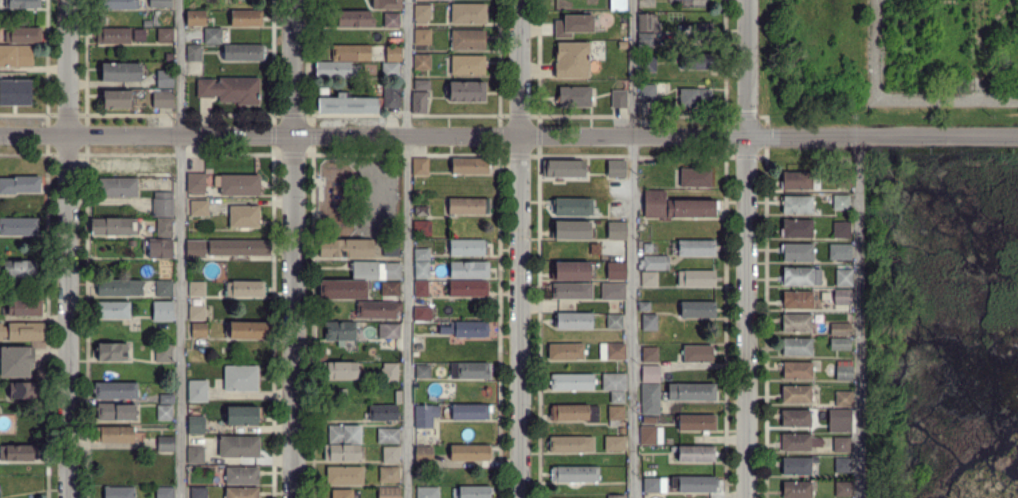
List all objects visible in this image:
building: (22, 3)
building: (162, 3)
building: (116, 4)
building: (387, 4)
building: (422, 13)
building: (468, 14)
building: (196, 18)
building: (246, 18)
building: (354, 19)
building: (391, 19)
building: (648, 23)
building: (573, 25)
building: (702, 31)
building: (140, 34)
building: (24, 35)
building: (114, 35)
building: (165, 35)
building: (212, 35)
building: (422, 36)
building: (645, 39)
building: (467, 40)
building: (595, 45)
road: (977, 49)
building: (194, 52)
building: (243, 52)
building: (350, 53)
building: (394, 53)
building: (15, 56)
building: (572, 60)
building: (422, 61)
building: (700, 61)
building: (647, 64)
building: (468, 65)
road: (68, 67)
road: (746, 68)
building: (336, 69)
building: (390, 70)
building: (117, 72)
building: (164, 79)
building: (422, 84)
building: (231, 90)
building: (466, 91)
building: (15, 92)
building: (648, 93)
building: (391, 95)
building: (574, 96)
building: (695, 97)
road: (877, 98)
road: (998, 98)
building: (115, 99)
building: (161, 99)
building: (619, 99)
building: (419, 101)
building: (347, 104)
road: (34, 134)
road: (407, 136)
road: (882, 137)
building: (135, 165)
building: (421, 166)
building: (469, 166)
building: (563, 168)
building: (617, 169)
building: (696, 177)
building: (843, 178)
building: (799, 181)
building: (196, 183)
building: (240, 184)
building: (19, 185)
building: (118, 187)
building: (418, 194)
park: (358, 198)
building: (841, 202)
building: (468, 205)
building: (797, 205)
building: (163, 207)
building: (571, 207)
building: (675, 207)
building: (200, 208)
building: (421, 210)
building: (244, 216)
building: (114, 226)
building: (18, 227)
building: (165, 227)
building: (422, 228)
building: (796, 228)
building: (570, 229)
building: (842, 229)
building: (618, 230)
building: (646, 246)
building: (197, 247)
building: (240, 247)
building: (467, 247)
building: (160, 248)
road: (180, 248)
building: (345, 248)
building: (391, 248)
road: (521, 248)
road: (632, 248)
building: (697, 248)
road: (293, 249)
road: (406, 249)
building: (797, 252)
building: (841, 252)
building: (422, 255)
building: (655, 263)
building: (19, 268)
building: (375, 270)
building: (422, 270)
building: (469, 270)
building: (573, 270)
building: (799, 276)
building: (696, 278)
building: (844, 278)
building: (650, 279)
building: (119, 287)
building: (164, 288)
building: (390, 288)
building: (421, 288)
building: (468, 288)
building: (198, 289)
building: (245, 289)
building: (342, 290)
building: (572, 291)
building: (613, 291)
building: (843, 296)
building: (798, 300)
building: (645, 306)
building: (25, 308)
building: (377, 309)
building: (113, 310)
building: (699, 310)
building: (163, 311)
building: (197, 313)
building: (423, 314)
road: (68, 316)
road: (745, 317)
road: (858, 317)
building: (441, 318)
building: (573, 321)
building: (615, 321)
building: (649, 322)
building: (797, 322)
building: (841, 328)
building: (199, 329)
building: (469, 329)
building: (341, 330)
building: (22, 331)
building: (250, 331)
building: (389, 331)
building: (840, 344)
building: (798, 346)
building: (111, 351)
building: (567, 351)
building: (612, 352)
building: (164, 353)
building: (650, 354)
building: (698, 354)
building: (15, 361)
building: (845, 370)
building: (343, 371)
building: (423, 371)
building: (469, 371)
building: (798, 371)
building: (390, 372)
building: (651, 374)
building: (241, 379)
building: (572, 381)
building: (614, 382)
building: (25, 390)
building: (115, 390)
building: (196, 391)
building: (343, 391)
building: (696, 392)
building: (650, 394)
building: (797, 394)
building: (398, 397)
building: (618, 397)
building: (844, 398)
building: (168, 399)
building: (651, 409)
building: (470, 411)
building: (116, 412)
building: (165, 413)
building: (383, 413)
building: (575, 413)
building: (616, 415)
building: (242, 416)
building: (426, 416)
building: (796, 418)
building: (842, 418)
building: (650, 419)
building: (697, 423)
building: (197, 425)
building: (622, 430)
building: (344, 434)
building: (116, 435)
building: (651, 435)
building: (389, 436)
building: (669, 442)
building: (799, 442)
building: (615, 443)
building: (167, 444)
building: (841, 444)
building: (571, 445)
building: (240, 447)
building: (18, 453)
building: (342, 453)
building: (470, 453)
building: (693, 453)
building: (196, 455)
building: (392, 455)
building: (424, 455)
building: (842, 464)
building: (797, 466)
building: (649, 468)
building: (575, 474)
building: (345, 475)
building: (388, 475)
building: (242, 476)
building: (694, 484)
building: (654, 485)
building: (843, 488)
building: (798, 490)
building: (166, 492)
building: (242, 492)
building: (389, 492)
building: (475, 492)
building: (119, 493)
building: (199, 493)
building: (342, 493)
building: (428, 493)
building: (616, 496)

